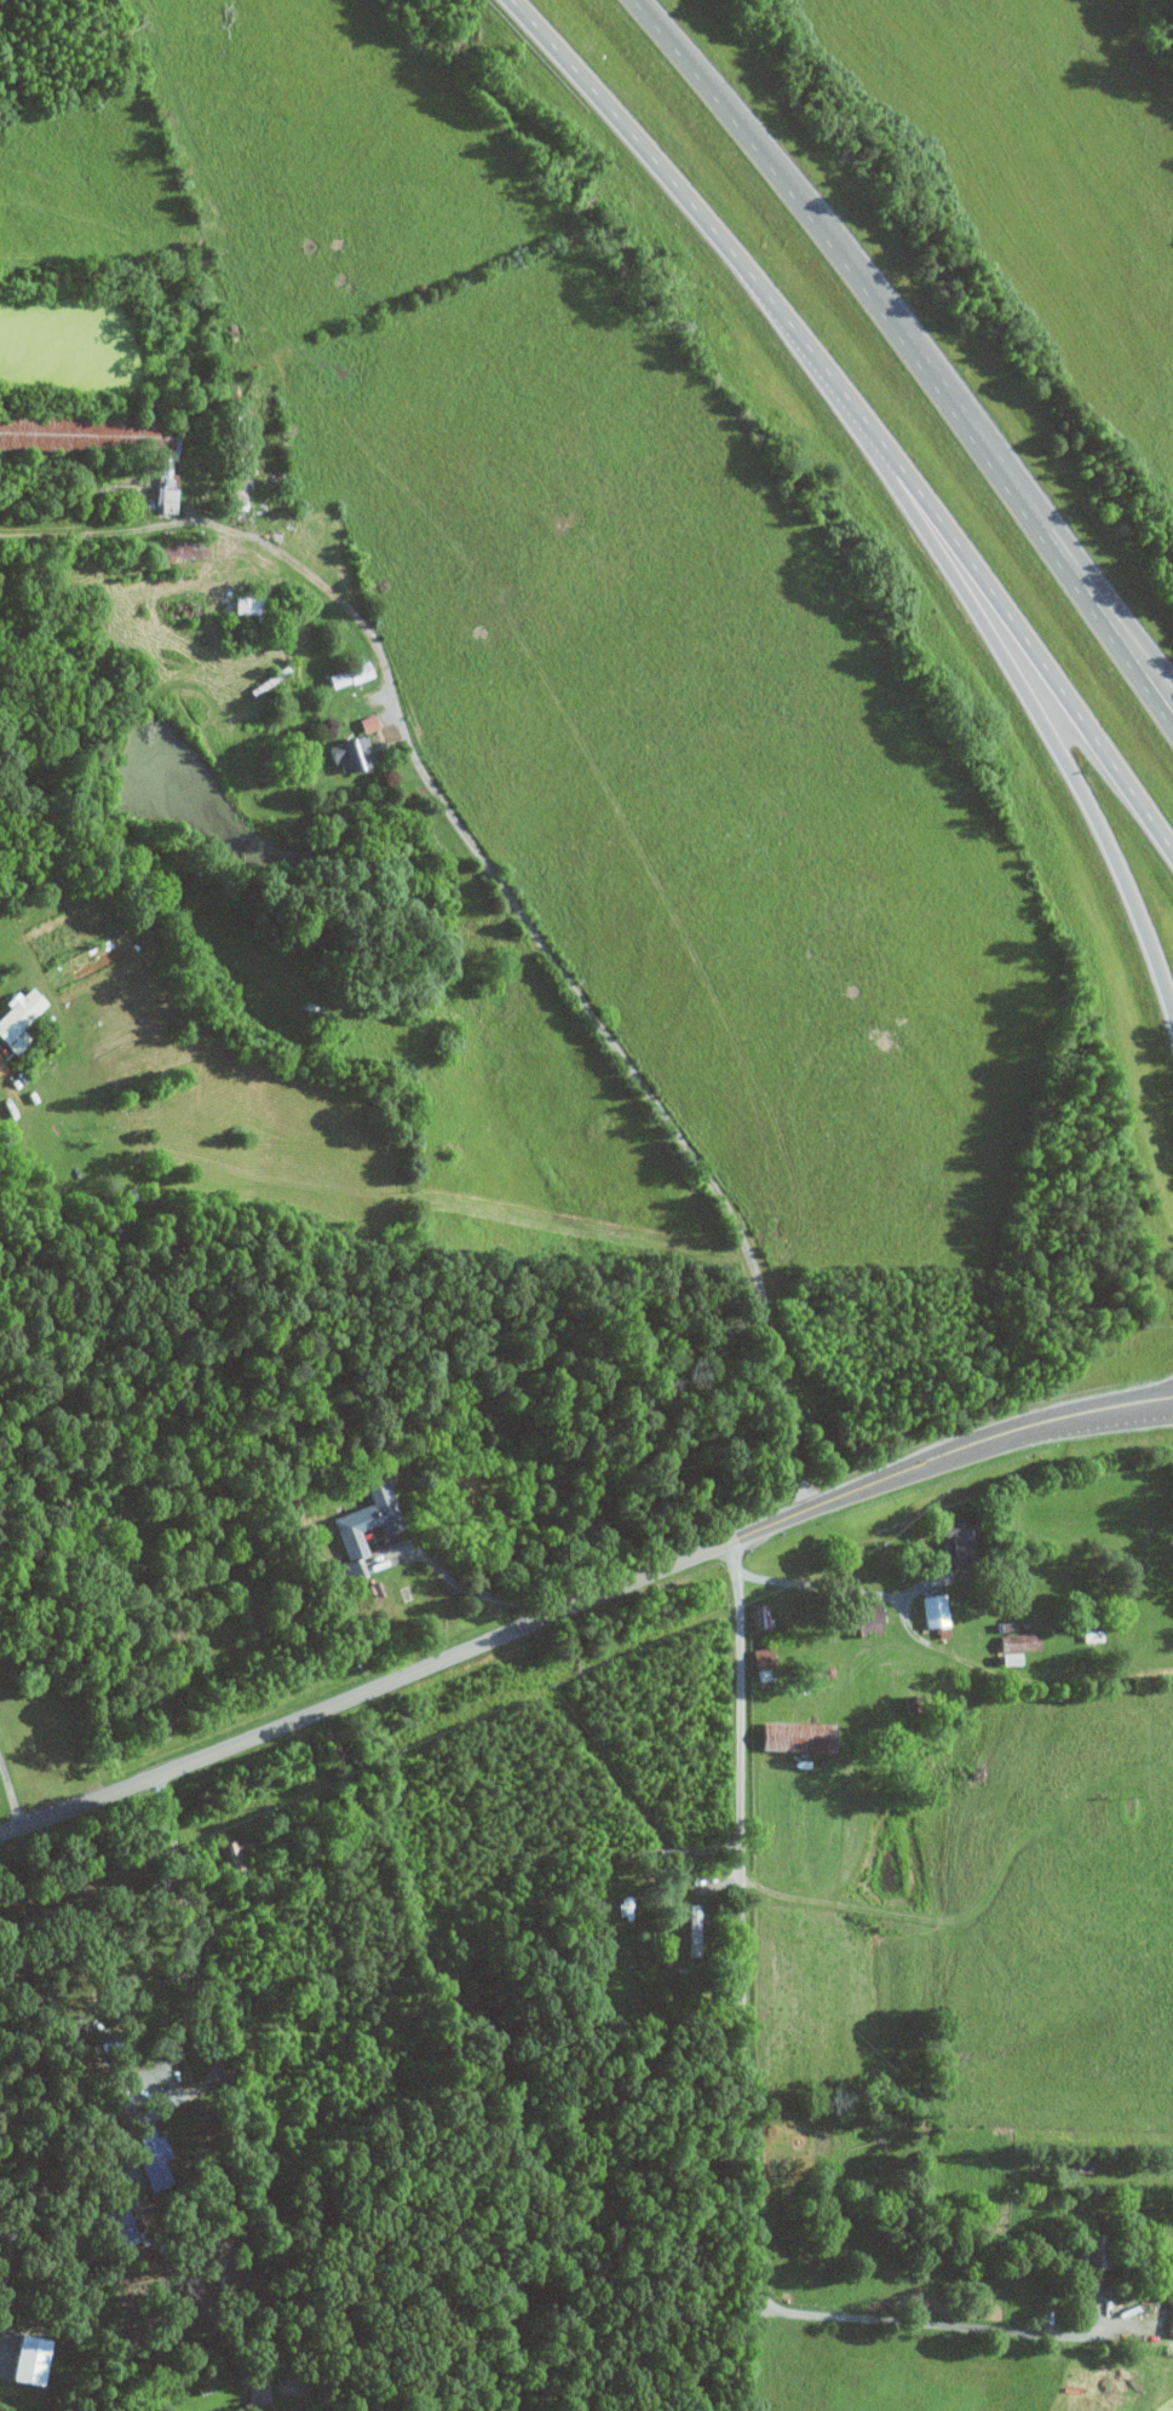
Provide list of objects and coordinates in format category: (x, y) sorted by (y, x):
road: (610, 115)
road: (921, 341)
road: (91, 534)
road: (949, 540)
road: (1139, 635)
building: (345, 674)
building: (364, 721)
road: (1054, 736)
building: (345, 752)
road: (554, 963)
building: (16, 1017)
building: (361, 1525)
building: (951, 1538)
road: (452, 1582)
road: (832, 1587)
road: (580, 1601)
building: (931, 1610)
building: (861, 1617)
building: (1002, 1625)
building: (1016, 1642)
road: (10, 1800)
road: (740, 1824)
building: (235, 1846)
building: (691, 1927)
road: (230, 2096)
road: (39, 2112)
building: (150, 2153)
building: (1085, 2255)
road: (754, 2261)
building: (1168, 2317)
road: (941, 2323)
building: (27, 2358)

